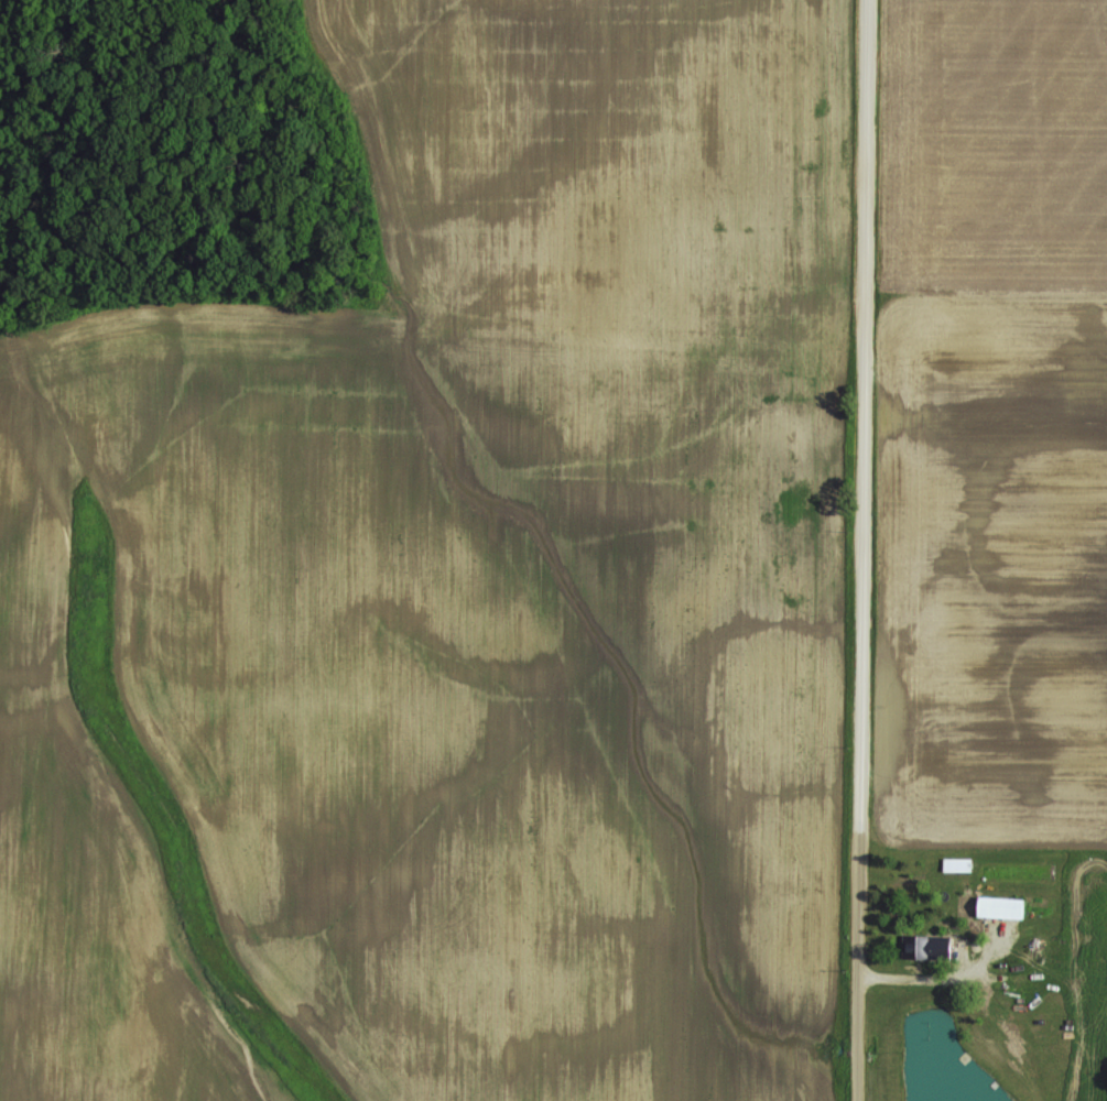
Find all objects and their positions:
road: (840, 550)
building: (1000, 904)
building: (925, 944)

